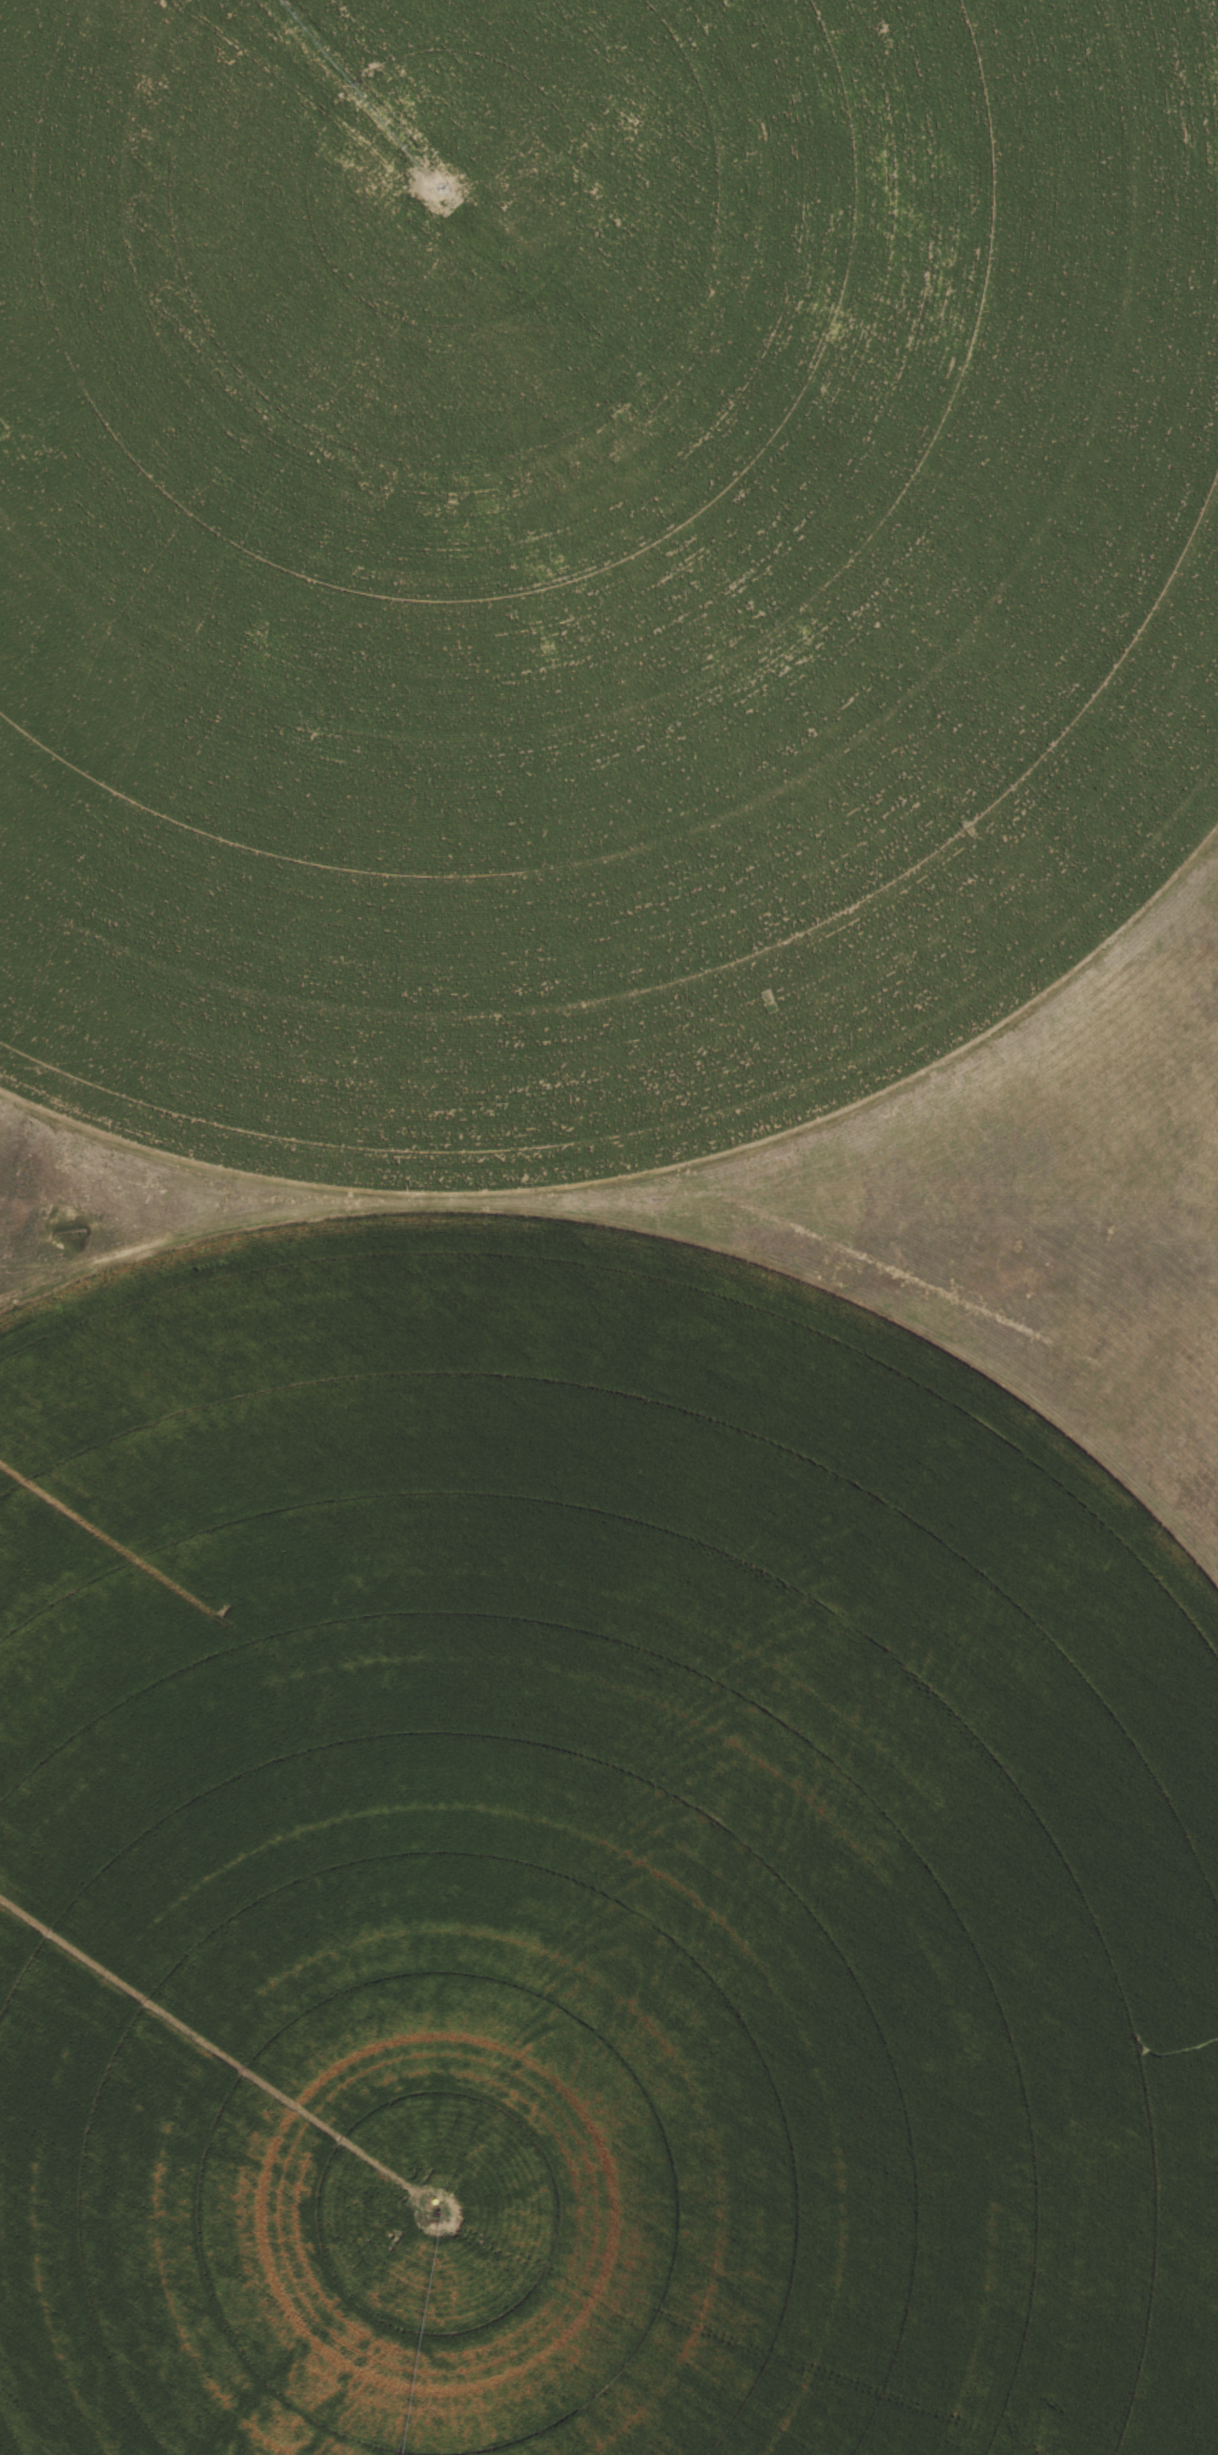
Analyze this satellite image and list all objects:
road: (609, 1307)

